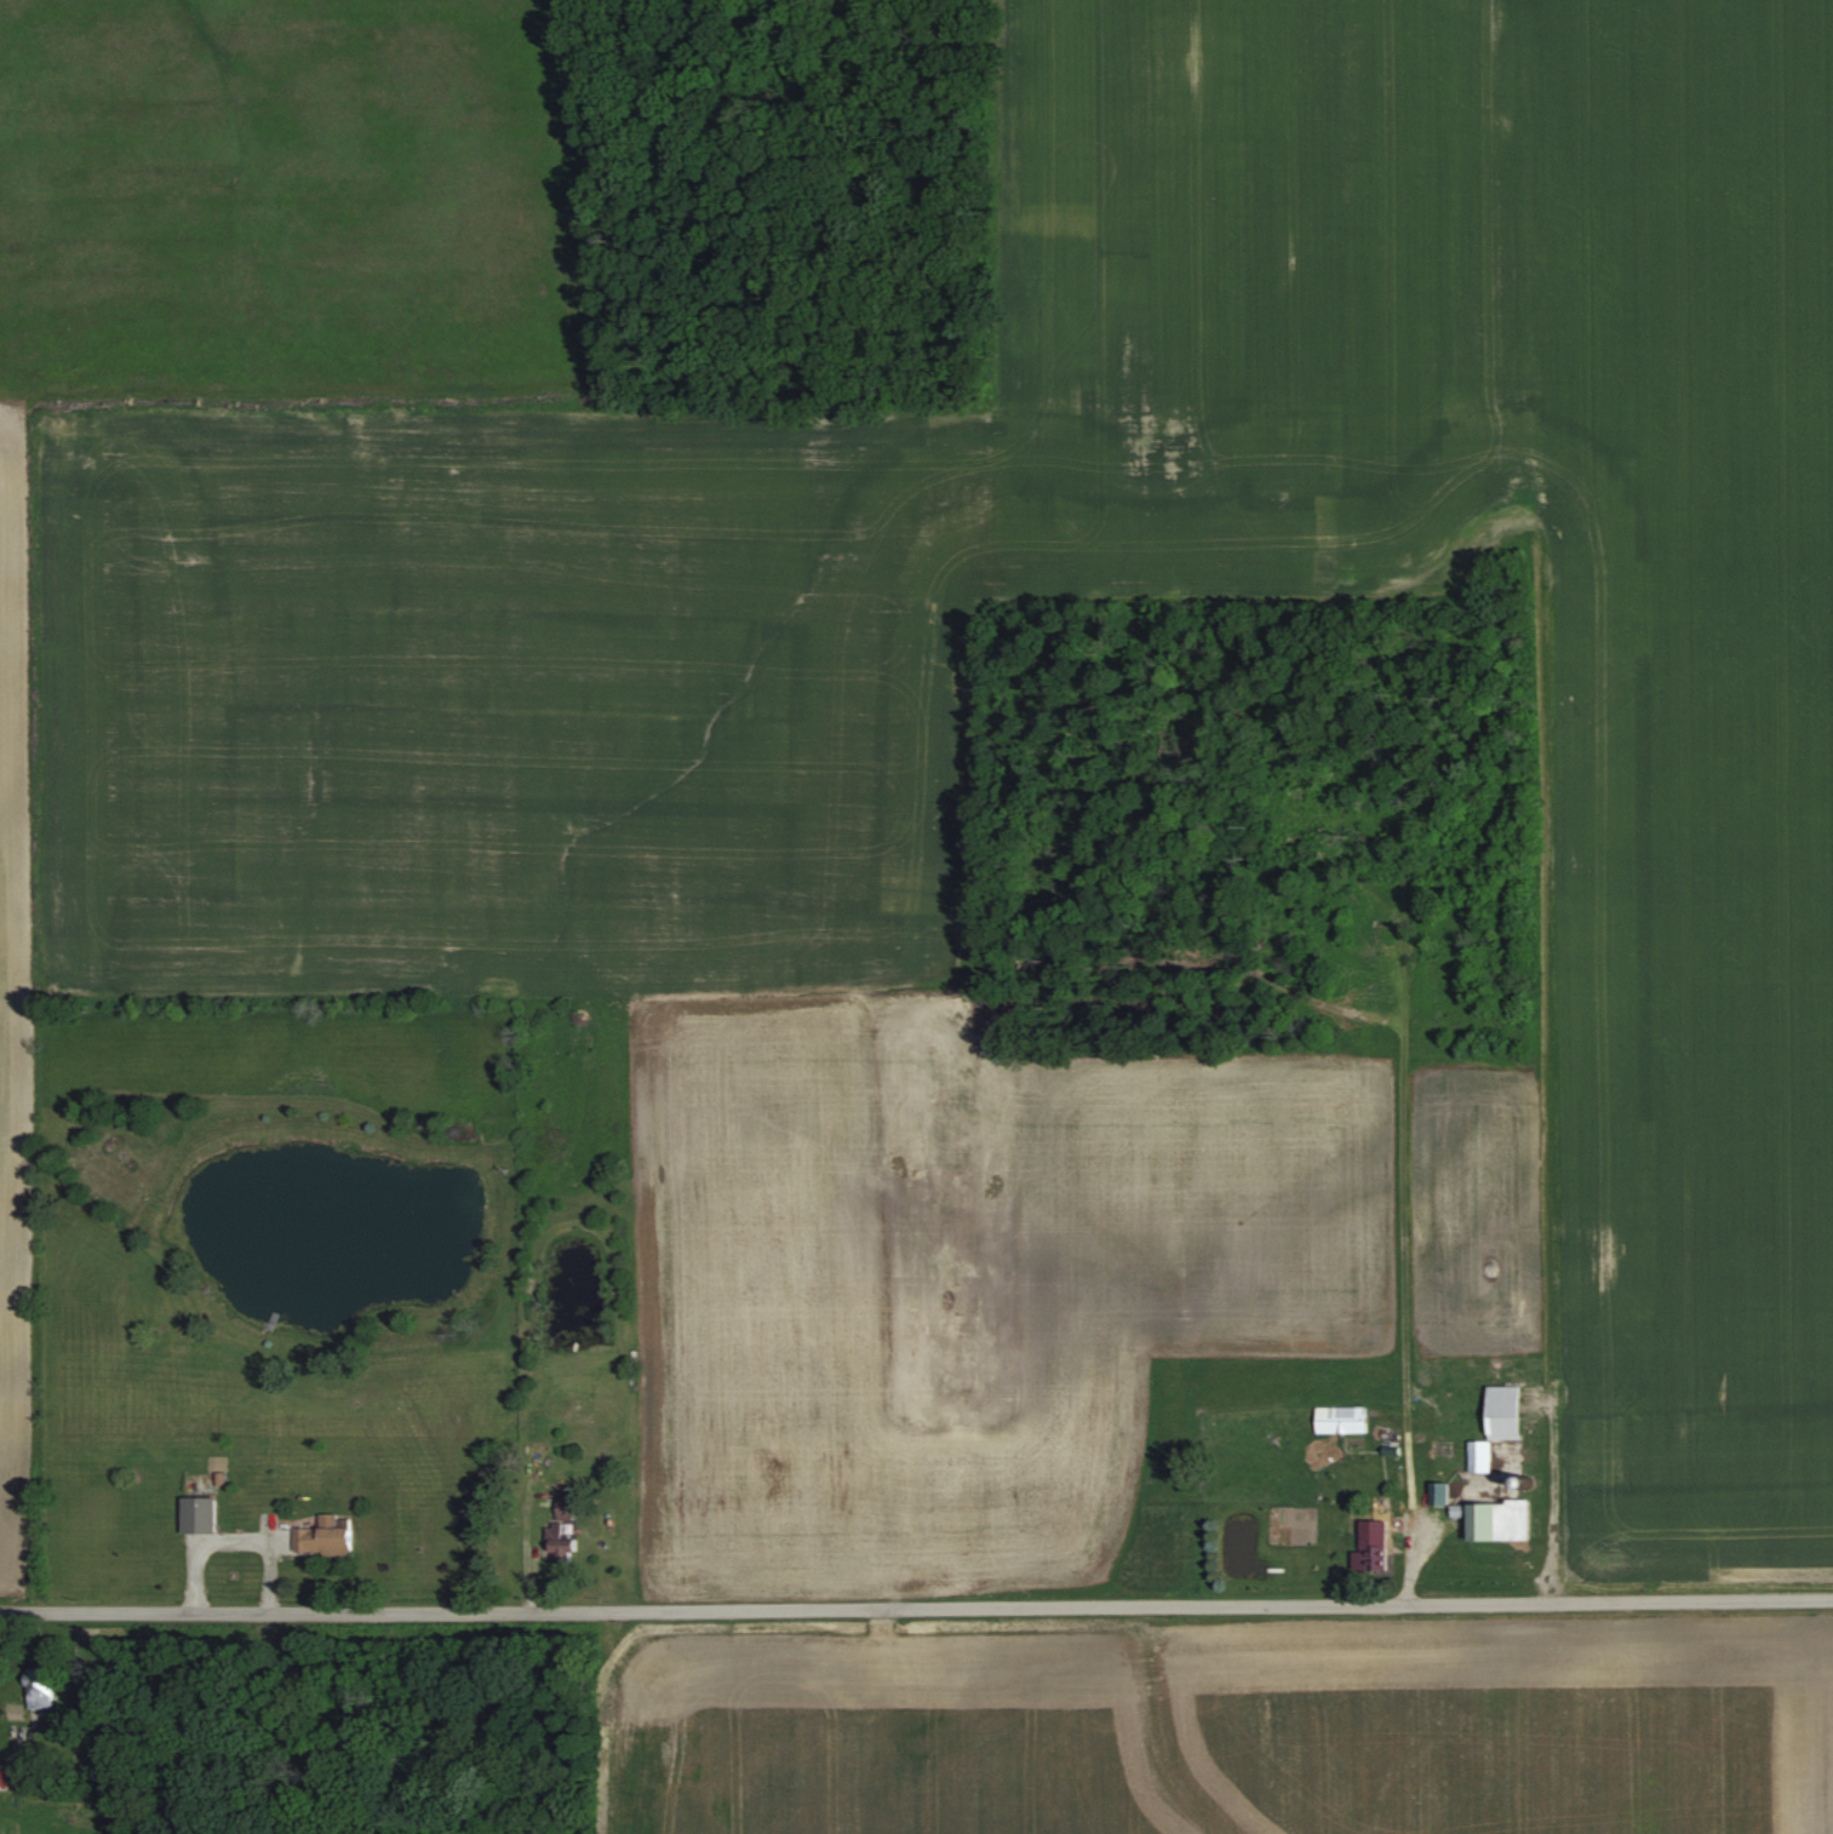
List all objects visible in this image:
building: (1341, 1420)
building: (1499, 1425)
building: (537, 1426)
building: (1440, 1494)
building: (565, 1507)
building: (199, 1514)
building: (1499, 1521)
building: (325, 1536)
building: (560, 1543)
building: (1373, 1554)
road: (916, 1606)
building: (42, 1686)
building: (1, 1776)

